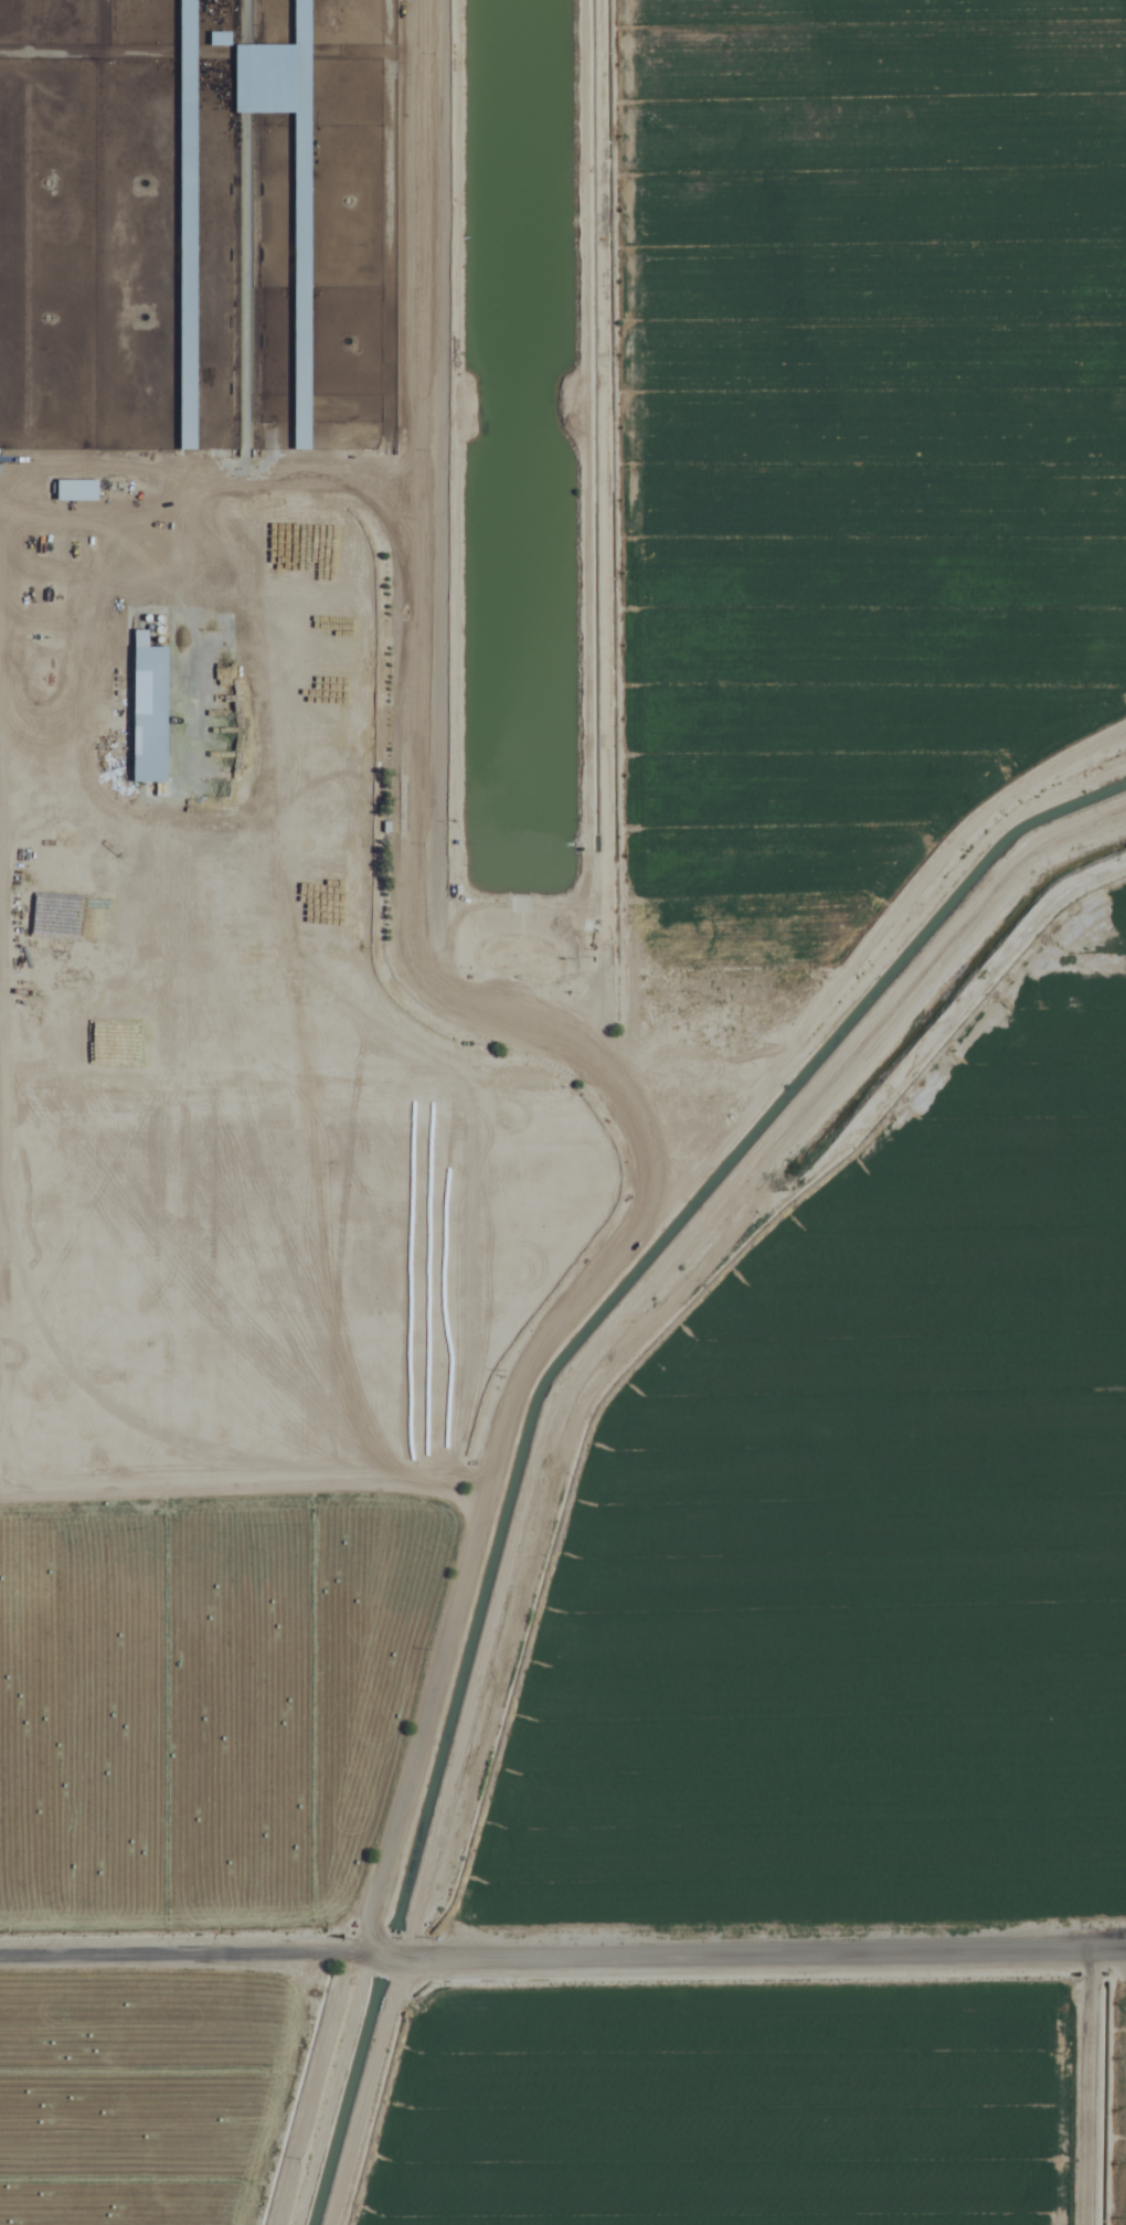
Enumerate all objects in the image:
building: (182, 224)
building: (297, 281)
building: (72, 490)
building: (144, 710)
road: (509, 1019)
crop: (563, 1112)
road: (562, 1955)

